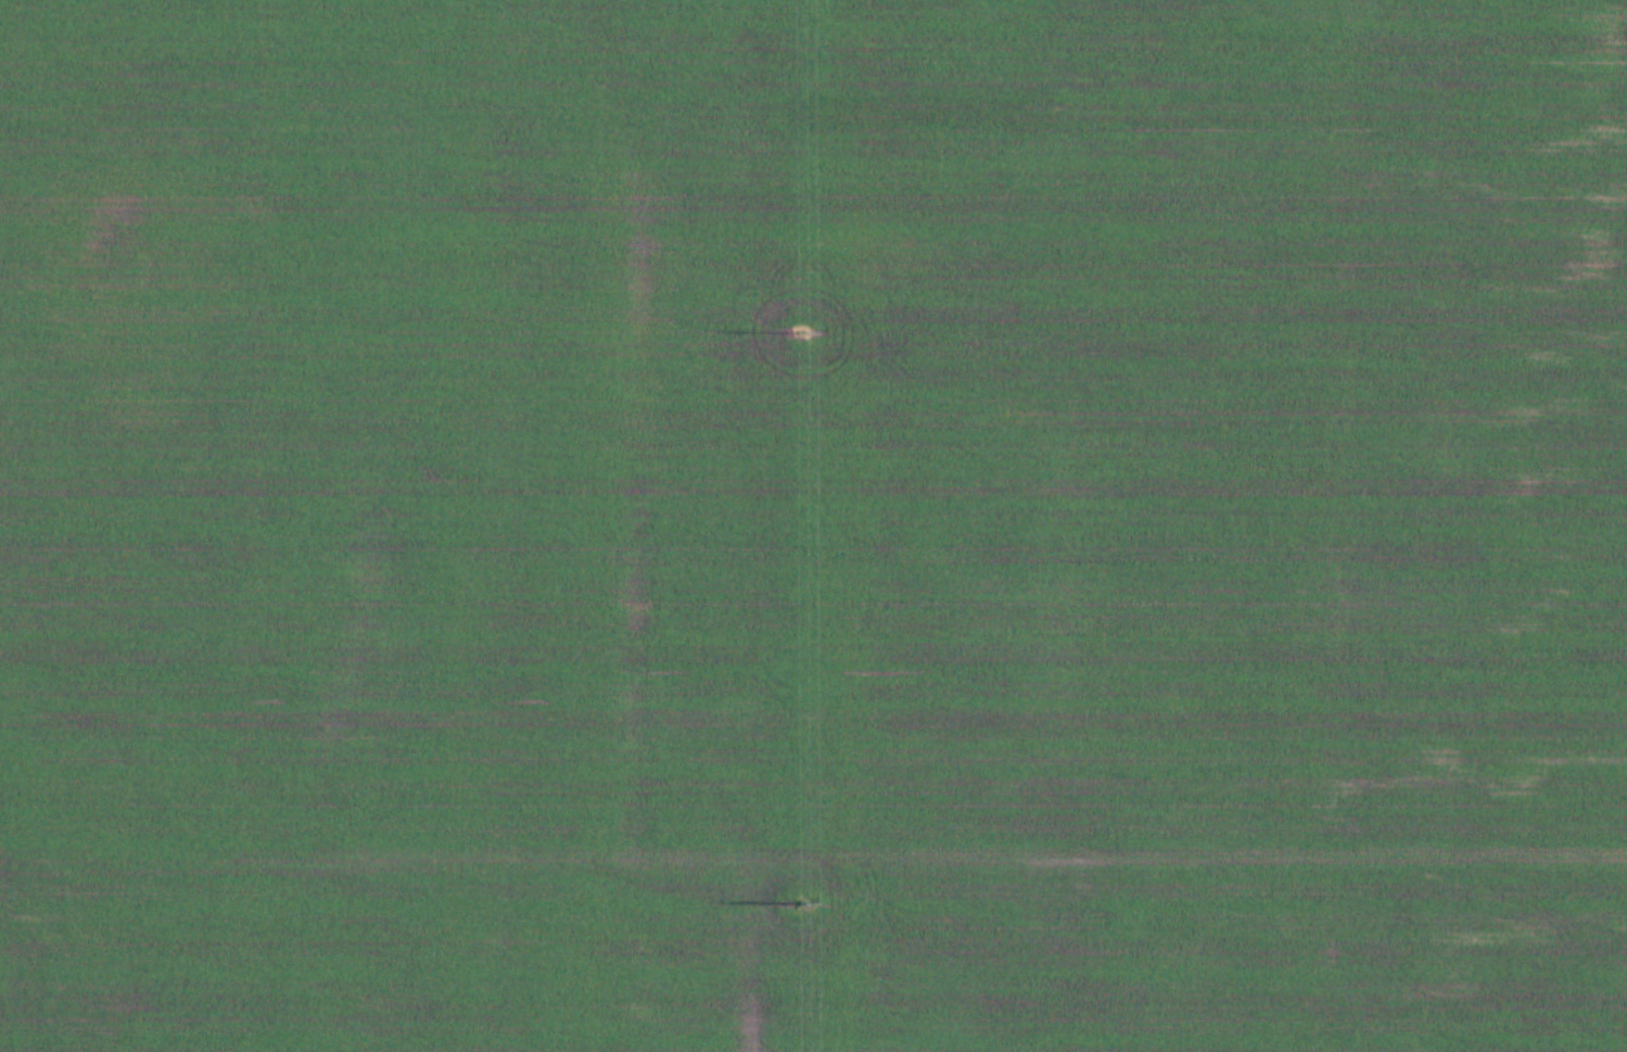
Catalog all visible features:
power tower: (792, 330)
power tower: (792, 903)

